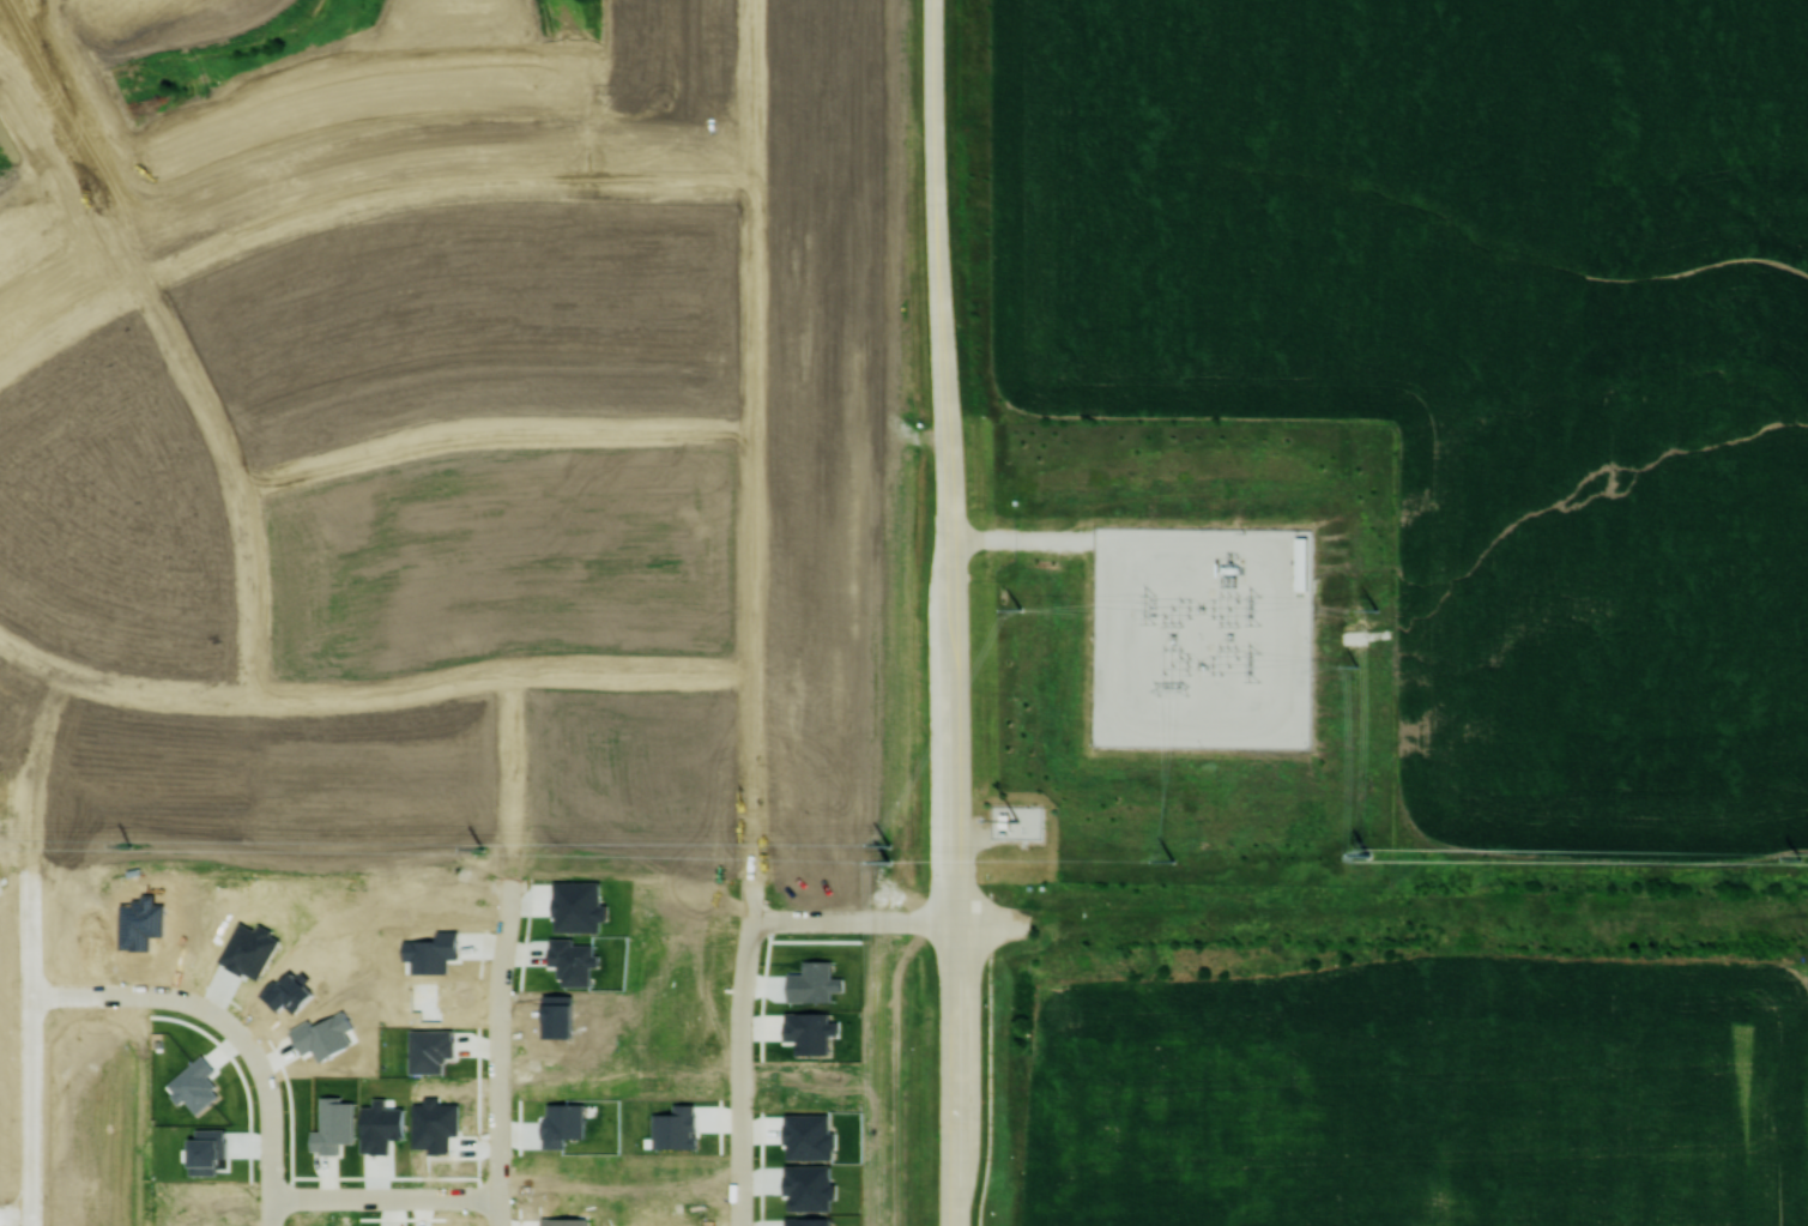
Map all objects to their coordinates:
park: (237, 68)
road: (672, 157)
road: (587, 158)
road: (277, 199)
road: (171, 336)
crop: (1470, 355)
road: (491, 434)
road: (751, 436)
road: (1023, 538)
power tower: (1018, 606)
power tower: (1148, 606)
power tower: (1252, 608)
power tower: (1374, 609)
power substation: (1201, 636)
road: (34, 660)
power tower: (1252, 664)
power tower: (1354, 665)
road: (447, 681)
road: (105, 683)
power tower: (1171, 688)
road: (44, 725)
road: (30, 784)
road: (29, 826)
power tower: (129, 845)
power tower: (888, 845)
power tower: (480, 848)
power tower: (1367, 854)
power tower: (1797, 858)
power tower: (1171, 859)
power tower: (887, 860)
road: (751, 895)
road: (909, 918)
road: (990, 918)
road: (808, 919)
road: (504, 948)
park: (907, 965)
road: (138, 995)
road: (29, 1044)
building: (430, 1050)
road: (742, 1071)
road: (953, 1071)
building: (195, 1086)
road: (271, 1123)
road: (386, 1197)
road: (14, 1214)

